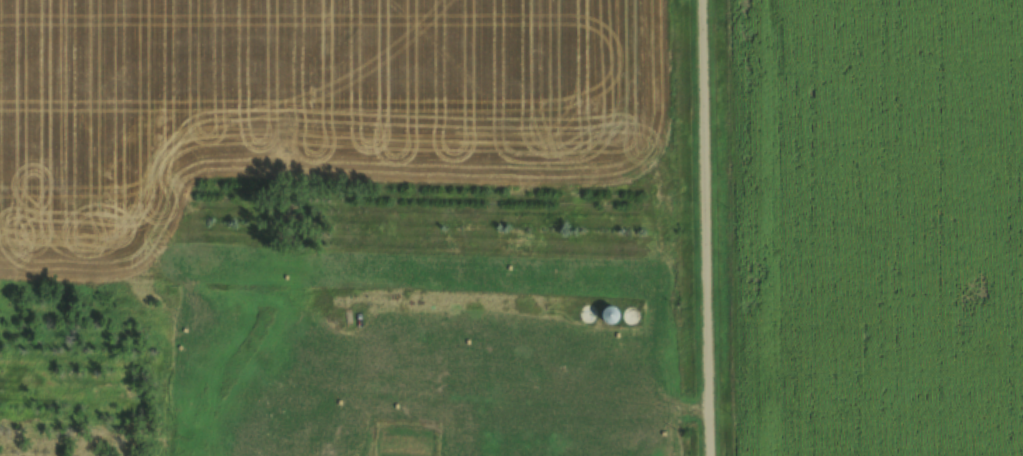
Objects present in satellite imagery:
road: (705, 228)
building: (609, 315)

